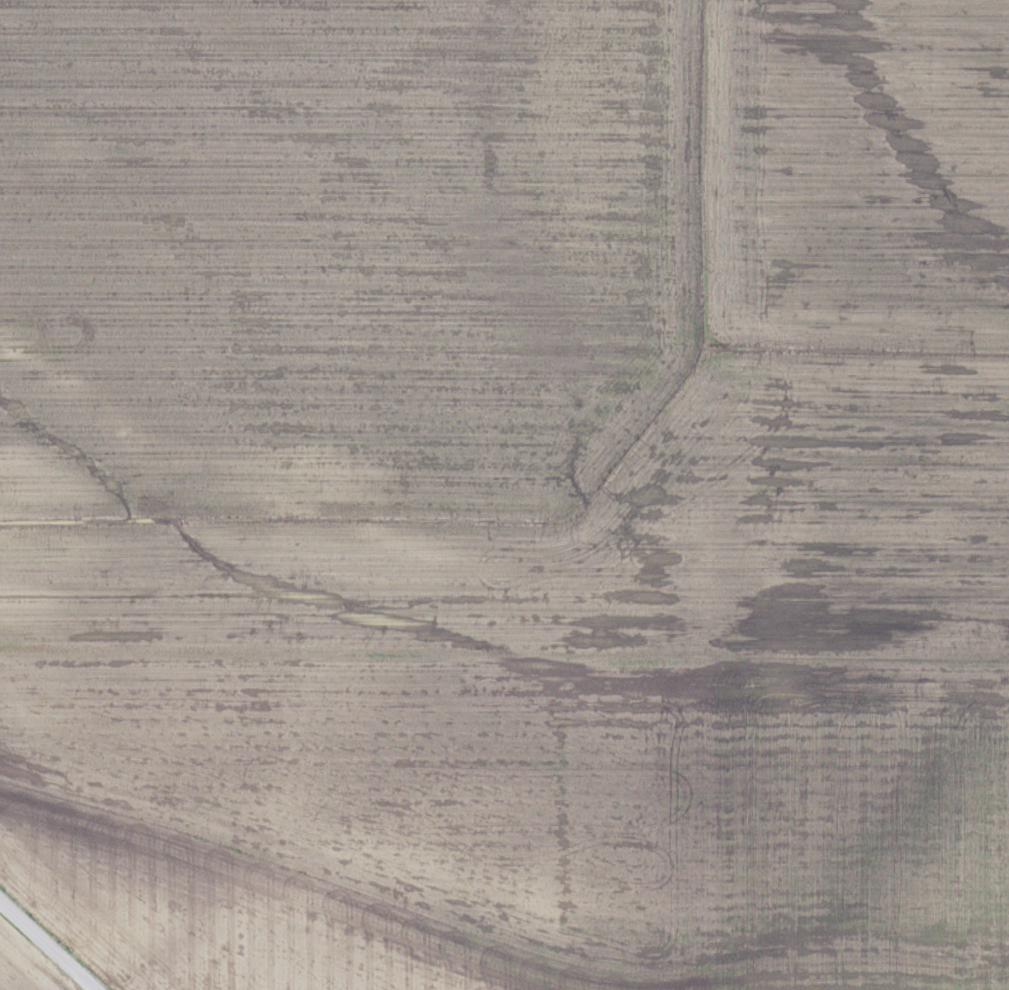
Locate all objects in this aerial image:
road: (41, 949)

